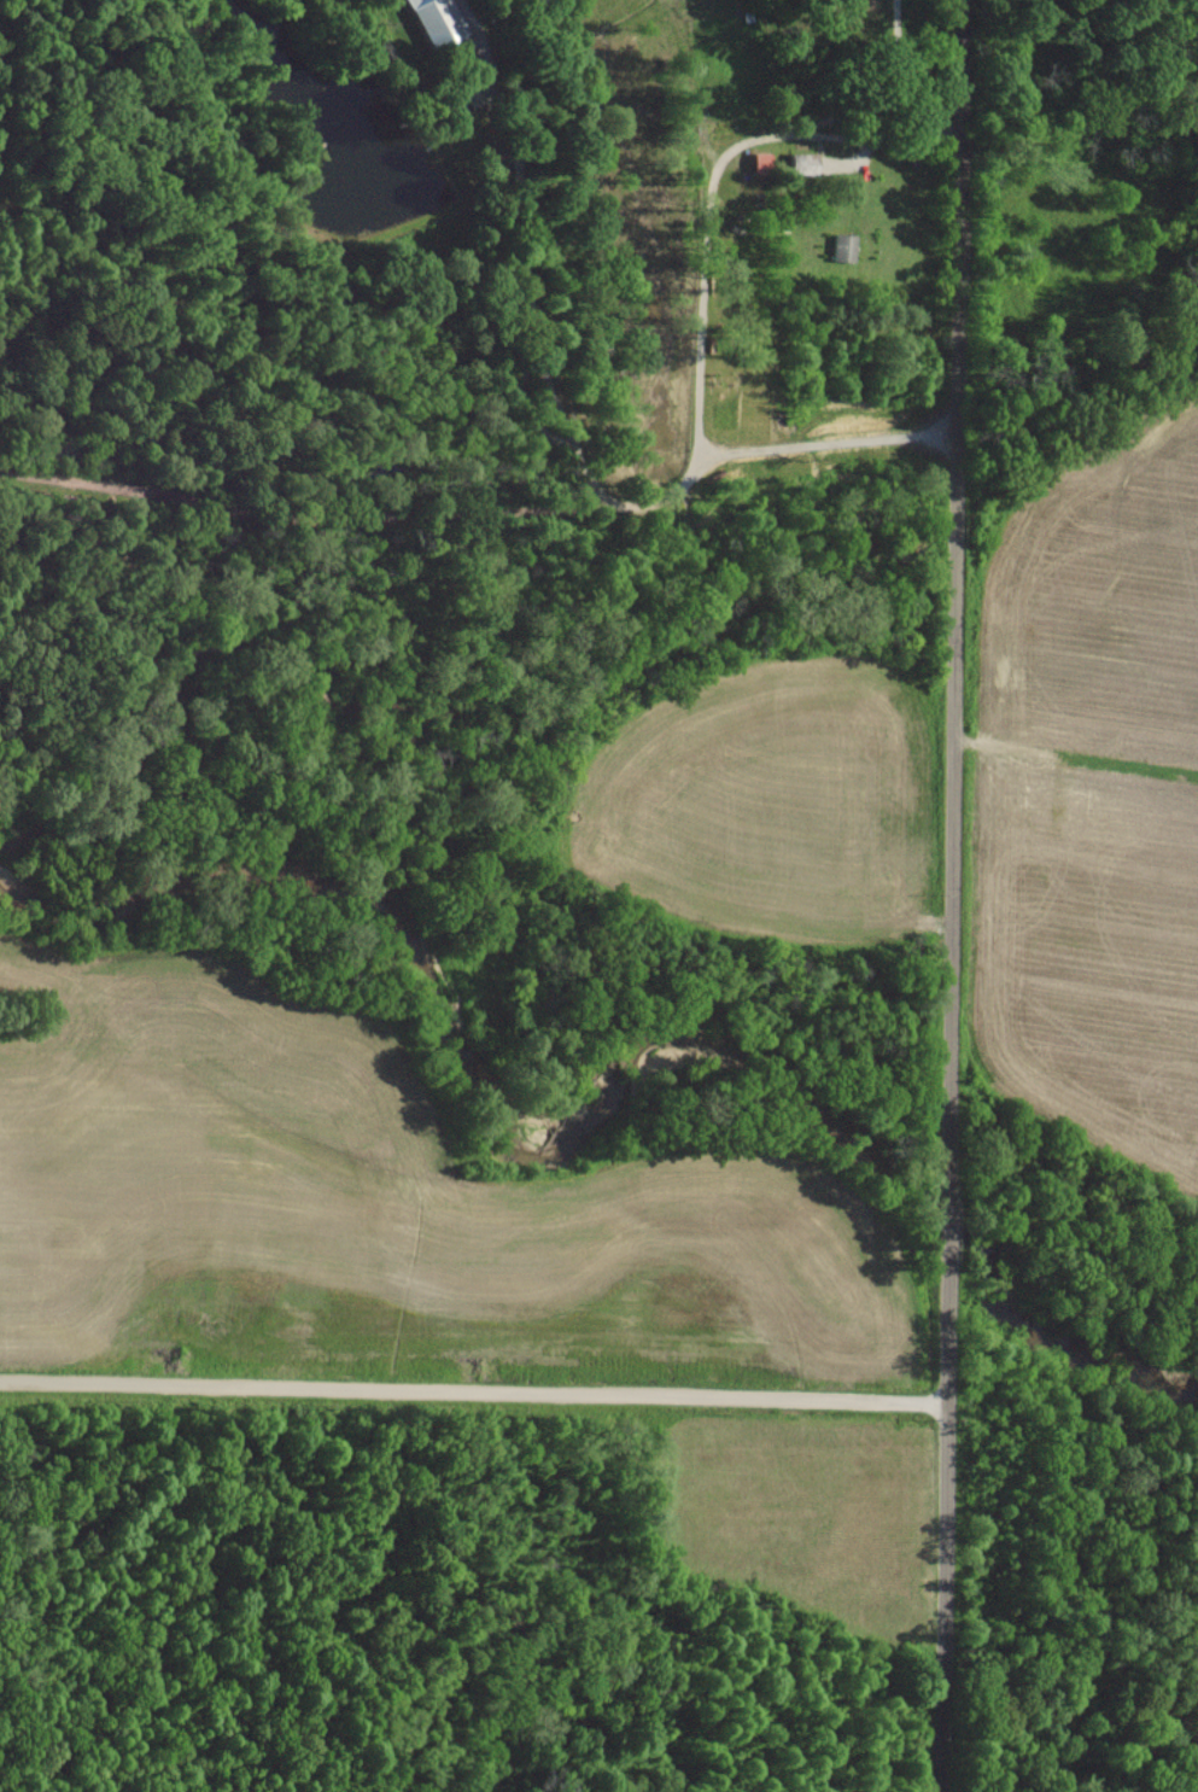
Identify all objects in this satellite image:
building: (442, 21)
building: (796, 160)
building: (843, 245)
road: (954, 273)
road: (948, 1169)
road: (474, 1378)

